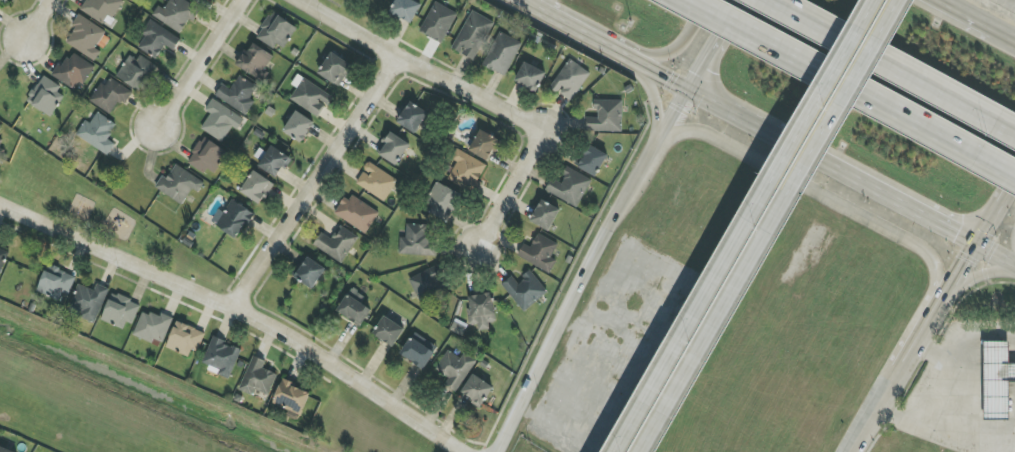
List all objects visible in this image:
building: (132, 0)
building: (7, 1)
building: (200, 1)
road: (519, 3)
road: (1008, 3)
building: (101, 9)
building: (405, 10)
building: (176, 14)
road: (966, 16)
road: (37, 22)
building: (438, 22)
building: (276, 32)
road: (580, 33)
building: (473, 35)
road: (1005, 37)
building: (86, 38)
building: (157, 40)
road: (682, 43)
road: (716, 44)
building: (502, 54)
road: (197, 62)
building: (255, 62)
road: (890, 66)
road: (418, 68)
building: (335, 69)
building: (73, 72)
building: (137, 72)
road: (662, 74)
building: (530, 77)
building: (570, 80)
road: (851, 88)
traffic signals: (689, 89)
road: (824, 92)
building: (110, 95)
building: (238, 95)
building: (46, 97)
building: (310, 97)
road: (847, 97)
road: (681, 104)
road: (654, 106)
road: (721, 106)
building: (606, 117)
building: (412, 118)
building: (221, 121)
building: (299, 127)
building: (98, 133)
road: (662, 138)
building: (1, 142)
building: (484, 145)
building: (393, 148)
building: (1, 154)
building: (206, 157)
building: (593, 161)
building: (274, 162)
road: (644, 169)
building: (466, 171)
road: (312, 182)
building: (376, 182)
building: (179, 184)
road: (863, 184)
building: (257, 188)
building: (569, 188)
road: (511, 190)
road: (1005, 192)
building: (442, 201)
road: (848, 211)
building: (357, 213)
building: (545, 215)
building: (234, 219)
park: (103, 222)
road: (985, 227)
building: (416, 241)
building: (336, 244)
traffic signals: (974, 245)
building: (539, 253)
road: (994, 255)
building: (3, 258)
road: (965, 260)
building: (310, 273)
road: (970, 278)
building: (55, 283)
building: (428, 283)
building: (525, 291)
building: (89, 301)
building: (354, 308)
building: (120, 311)
building: (481, 311)
road: (240, 313)
road: (566, 315)
road: (694, 318)
road: (718, 323)
building: (152, 327)
building: (389, 331)
building: (185, 339)
road: (963, 349)
building: (419, 351)
building: (221, 357)
road: (903, 363)
building: (455, 368)
building: (258, 378)
building: (997, 380)
building: (477, 390)
road: (940, 393)
building: (291, 399)
road: (933, 431)
building: (4, 450)

